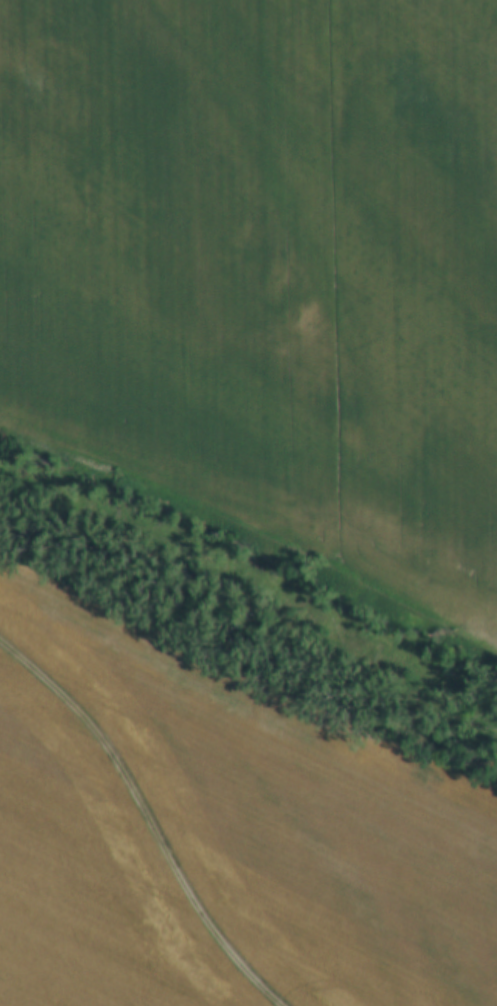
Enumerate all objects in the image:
road: (156, 808)

